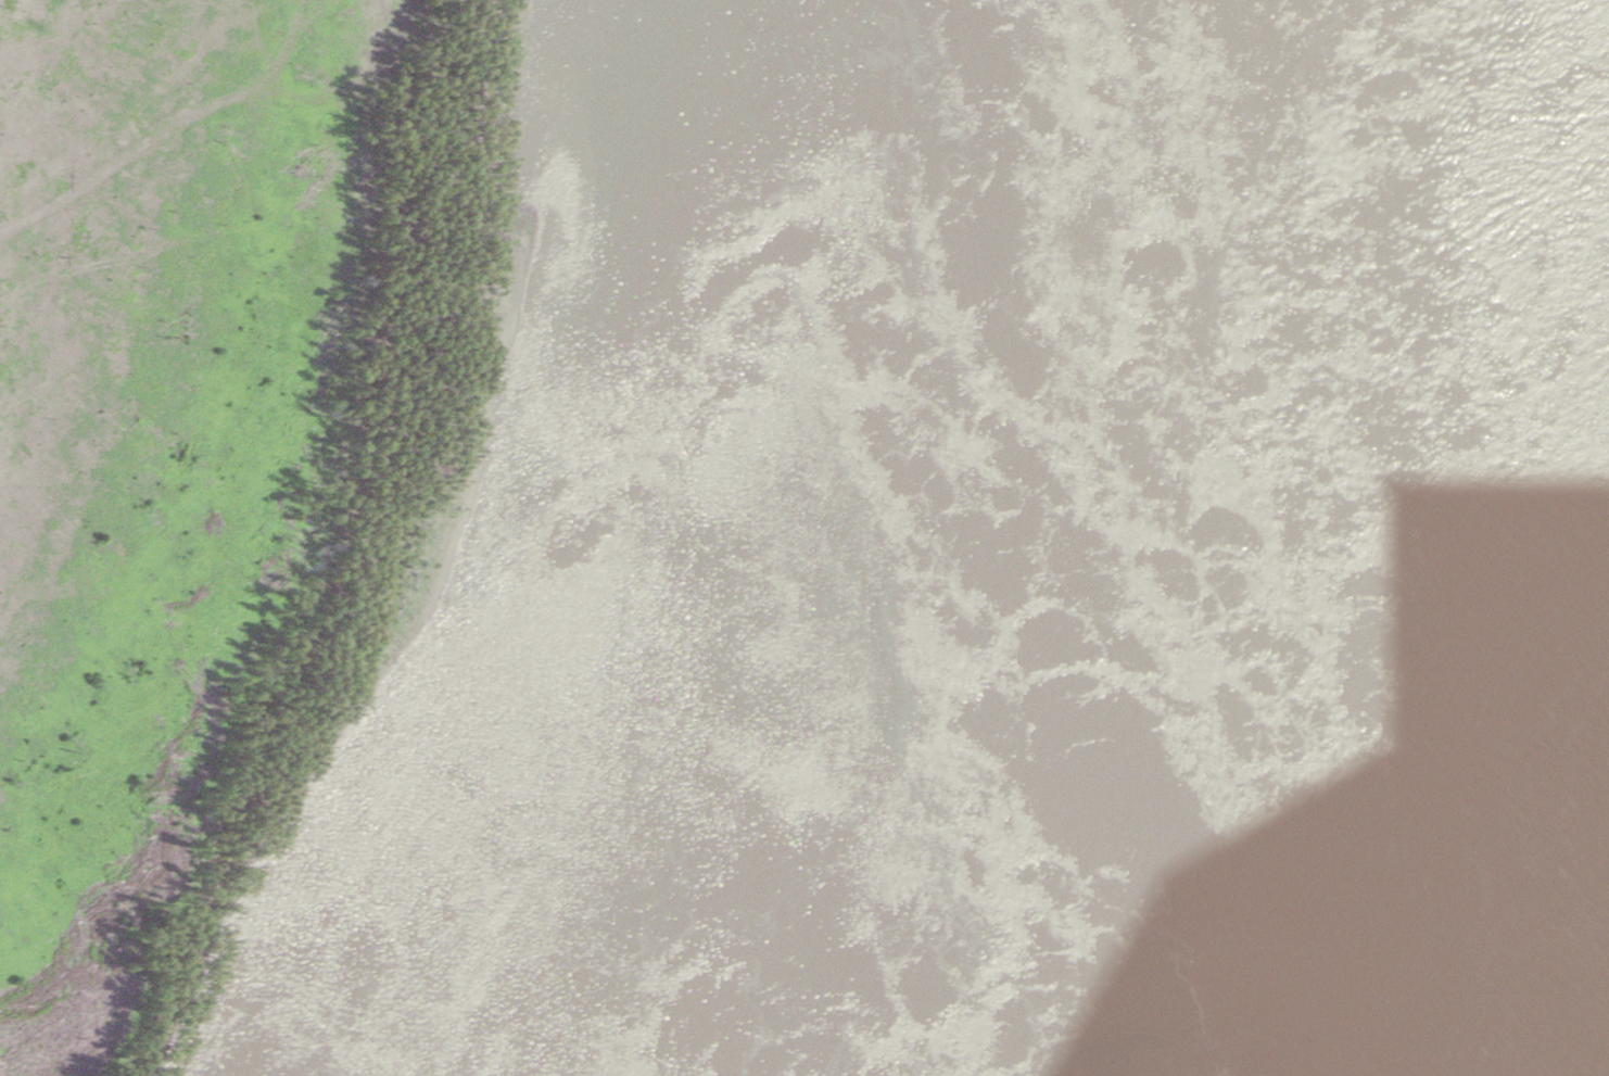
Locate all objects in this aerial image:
river: (1084, 532)

